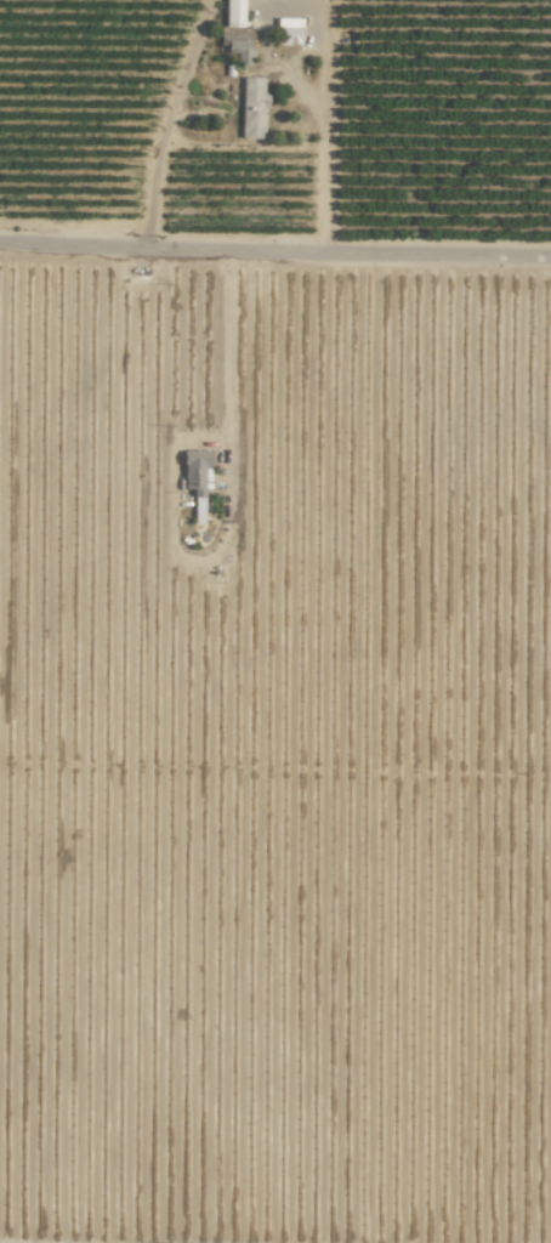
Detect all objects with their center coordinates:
building: (233, 11)
building: (251, 107)
road: (274, 251)
road: (229, 367)
building: (194, 471)
building: (195, 510)

